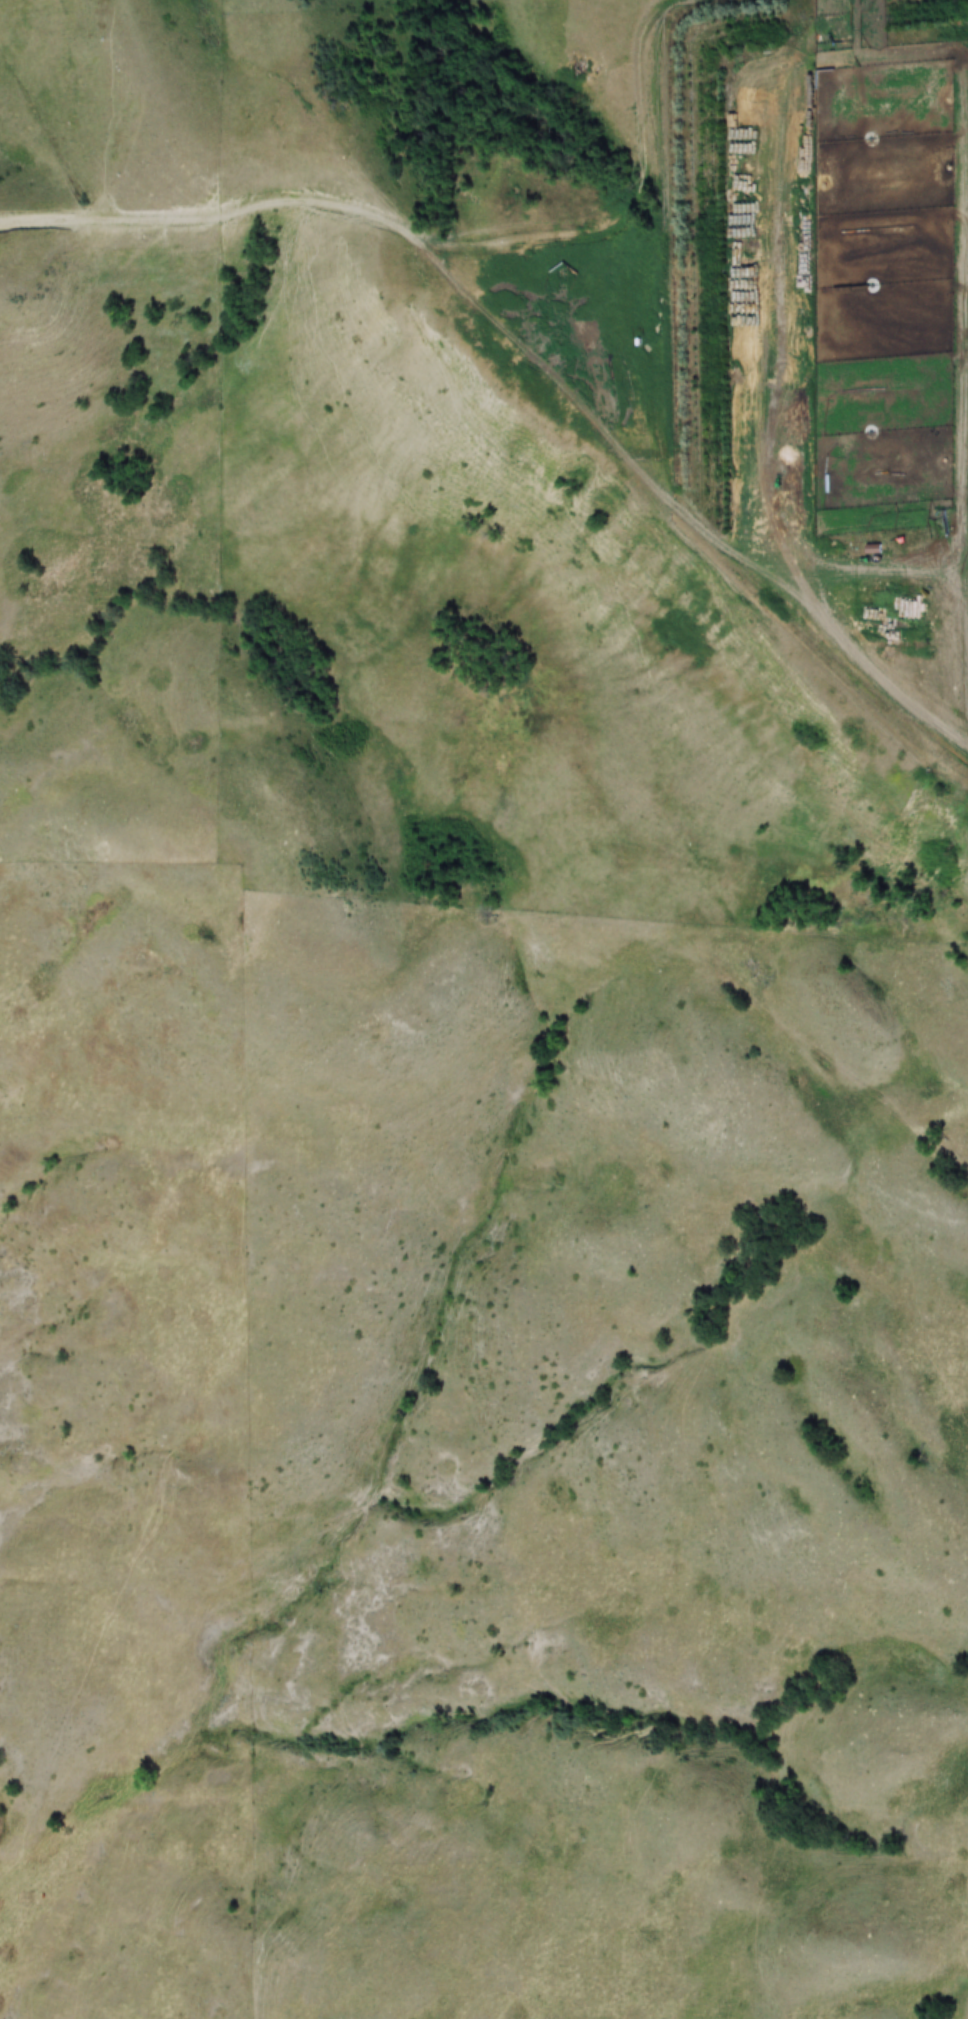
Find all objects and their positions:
road: (522, 374)

